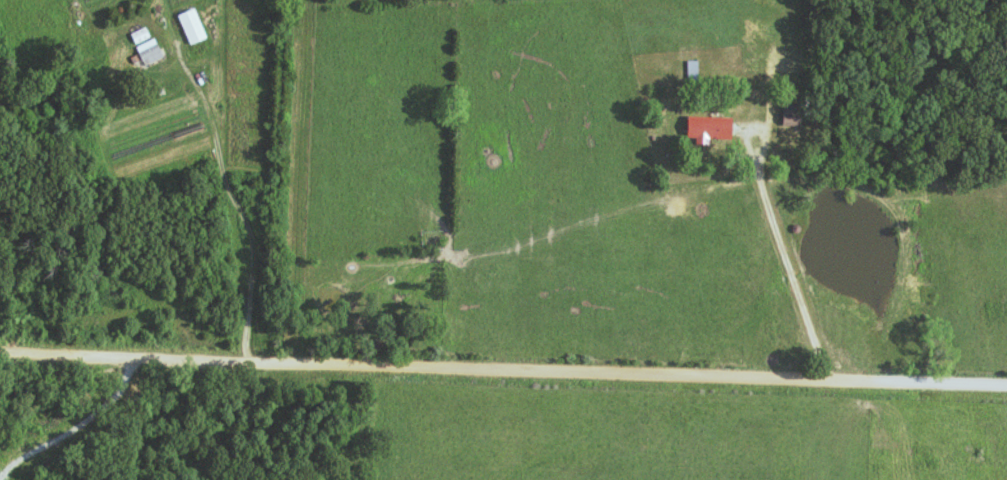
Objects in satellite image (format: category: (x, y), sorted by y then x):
building: (191, 26)
building: (140, 35)
building: (148, 52)
building: (707, 128)
road: (749, 142)
road: (240, 208)
road: (797, 279)
road: (503, 371)
building: (880, 438)
building: (977, 451)

